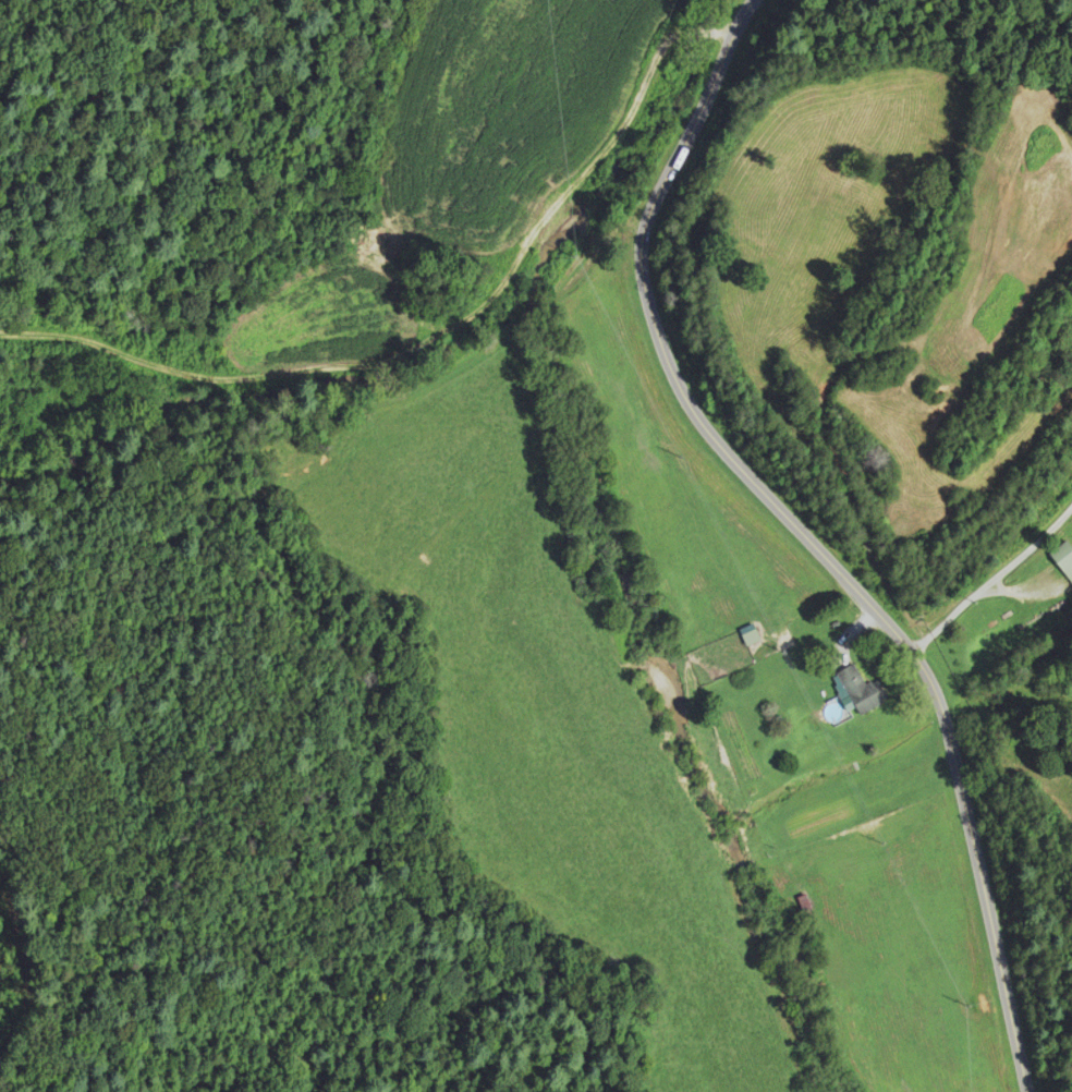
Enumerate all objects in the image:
road: (582, 275)
road: (263, 437)
road: (804, 535)
building: (1062, 560)
road: (990, 577)
building: (747, 639)
building: (856, 692)

